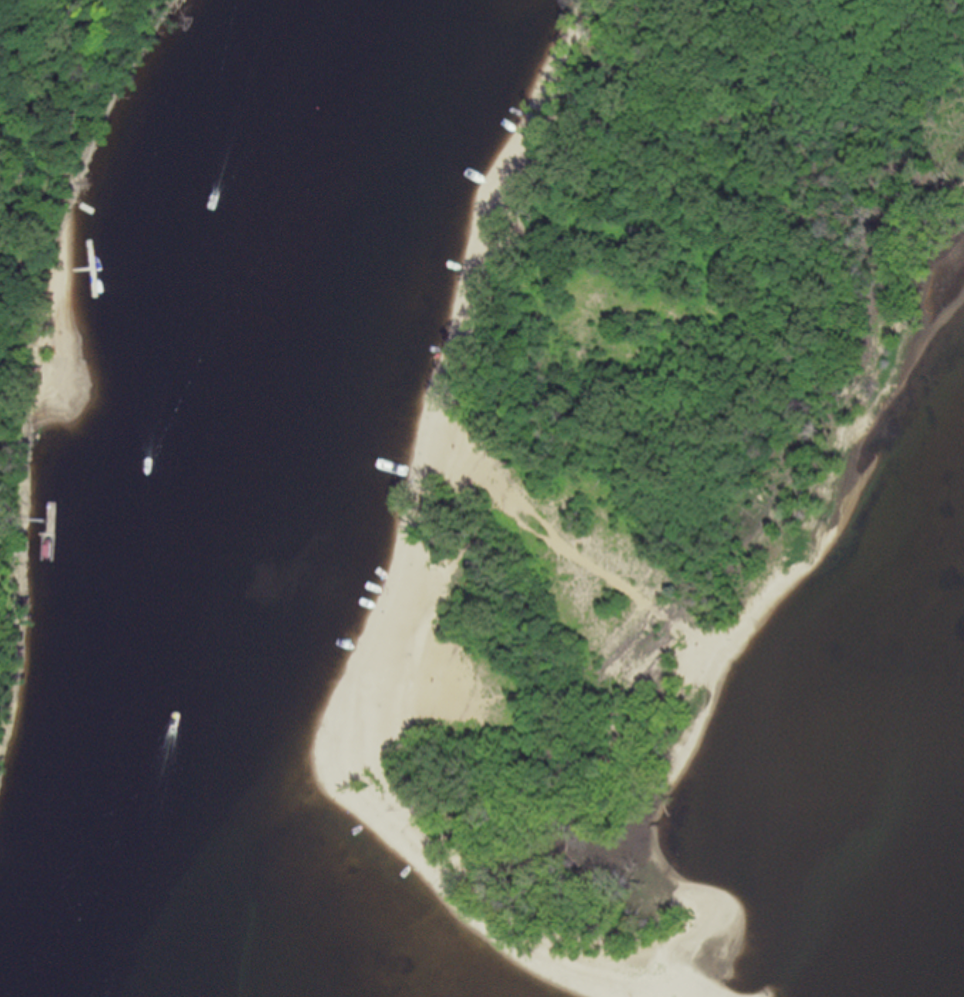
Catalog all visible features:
river: (261, 487)

